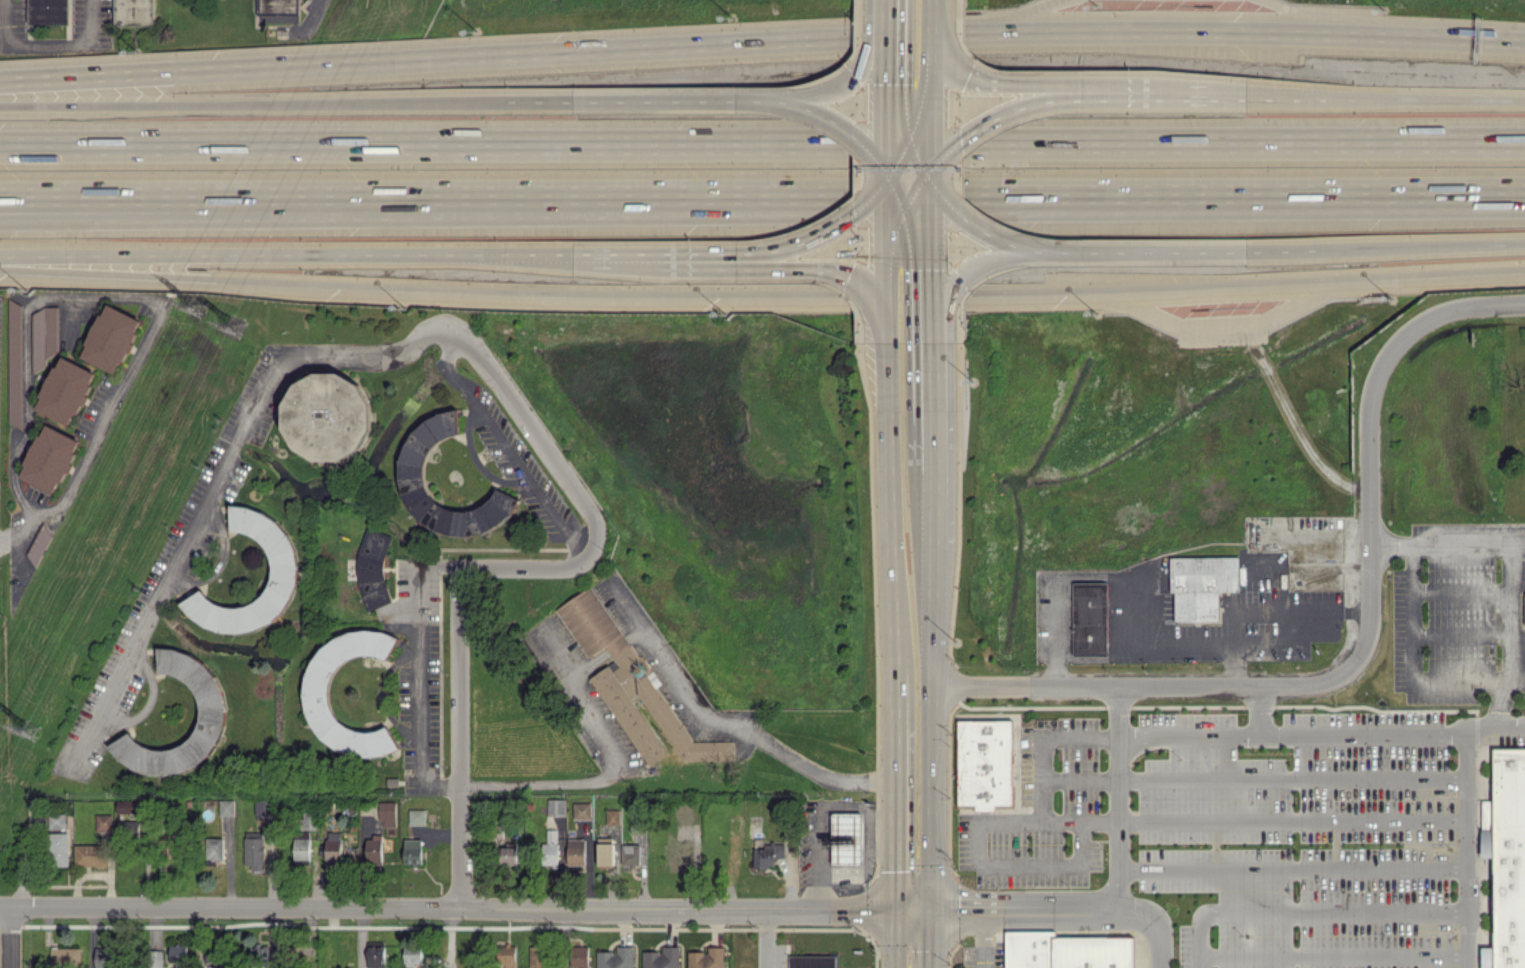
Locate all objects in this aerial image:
road: (930, 5)
building: (49, 11)
building: (277, 11)
building: (133, 12)
road: (1017, 16)
road: (1311, 17)
road: (762, 41)
road: (48, 44)
traffic signals: (932, 60)
road: (906, 67)
road: (1043, 82)
road: (838, 83)
road: (887, 88)
road: (931, 92)
road: (1274, 95)
road: (746, 98)
road: (924, 98)
road: (1439, 99)
road: (539, 100)
road: (1050, 100)
road: (251, 102)
road: (762, 143)
road: (919, 154)
road: (902, 156)
traffic signals: (929, 174)
traffic signals: (890, 177)
road: (916, 194)
road: (899, 195)
road: (901, 196)
road: (139, 198)
road: (139, 218)
road: (930, 222)
road: (809, 234)
road: (895, 243)
road: (917, 243)
road: (1420, 247)
road: (1281, 250)
road: (1073, 251)
road: (619, 253)
road: (287, 254)
road: (686, 254)
road: (888, 259)
road: (819, 267)
road: (969, 270)
road: (763, 290)
road: (112, 295)
road: (931, 306)
power tower: (196, 310)
power tower: (236, 329)
building: (44, 334)
road: (1224, 334)
building: (110, 338)
road: (345, 351)
building: (15, 363)
building: (65, 390)
road: (932, 405)
building: (327, 416)
road: (506, 448)
building: (49, 458)
road: (474, 459)
building: (412, 476)
road: (889, 508)
road: (932, 508)
road: (15, 526)
road: (1444, 541)
building: (283, 566)
building: (372, 567)
building: (1200, 585)
road: (1457, 589)
building: (1523, 606)
road: (1262, 612)
building: (1088, 617)
road: (1458, 633)
road: (1505, 634)
road: (1139, 639)
road: (1361, 641)
road: (1099, 658)
road: (1410, 667)
road: (418, 673)
building: (630, 683)
building: (316, 692)
road: (380, 693)
road: (149, 702)
building: (211, 707)
road: (1255, 707)
road: (722, 720)
road: (929, 726)
power tower: (34, 729)
road: (1319, 731)
road: (457, 736)
road: (1037, 739)
road: (608, 763)
building: (983, 763)
road: (1287, 777)
road: (1075, 778)
road: (892, 790)
road: (1113, 794)
building: (127, 805)
building: (555, 806)
building: (226, 807)
building: (581, 810)
building: (387, 813)
building: (683, 813)
building: (416, 816)
building: (611, 816)
road: (1287, 817)
building: (56, 820)
building: (103, 823)
building: (129, 828)
building: (846, 838)
road: (974, 843)
building: (332, 845)
building: (550, 847)
road: (1462, 847)
building: (57, 848)
building: (214, 849)
building: (254, 849)
building: (373, 849)
building: (301, 850)
building: (575, 850)
building: (412, 851)
building: (605, 851)
building: (509, 852)
building: (89, 854)
building: (629, 854)
building: (680, 854)
building: (767, 854)
building: (1504, 857)
road: (1288, 867)
road: (1046, 905)
traffic signals: (928, 907)
traffic signals: (893, 908)
road: (1302, 908)
road: (6, 909)
road: (453, 910)
road: (928, 937)
road: (978, 937)
road: (767, 938)
road: (893, 938)
road: (13, 939)
road: (558, 939)
building: (1066, 951)
road: (1329, 952)
building: (263, 953)
building: (375, 954)
building: (179, 956)
building: (412, 956)
building: (507, 956)
building: (536, 956)
building: (65, 957)
building: (105, 957)
building: (157, 957)
building: (615, 958)
building: (661, 958)
building: (706, 958)

